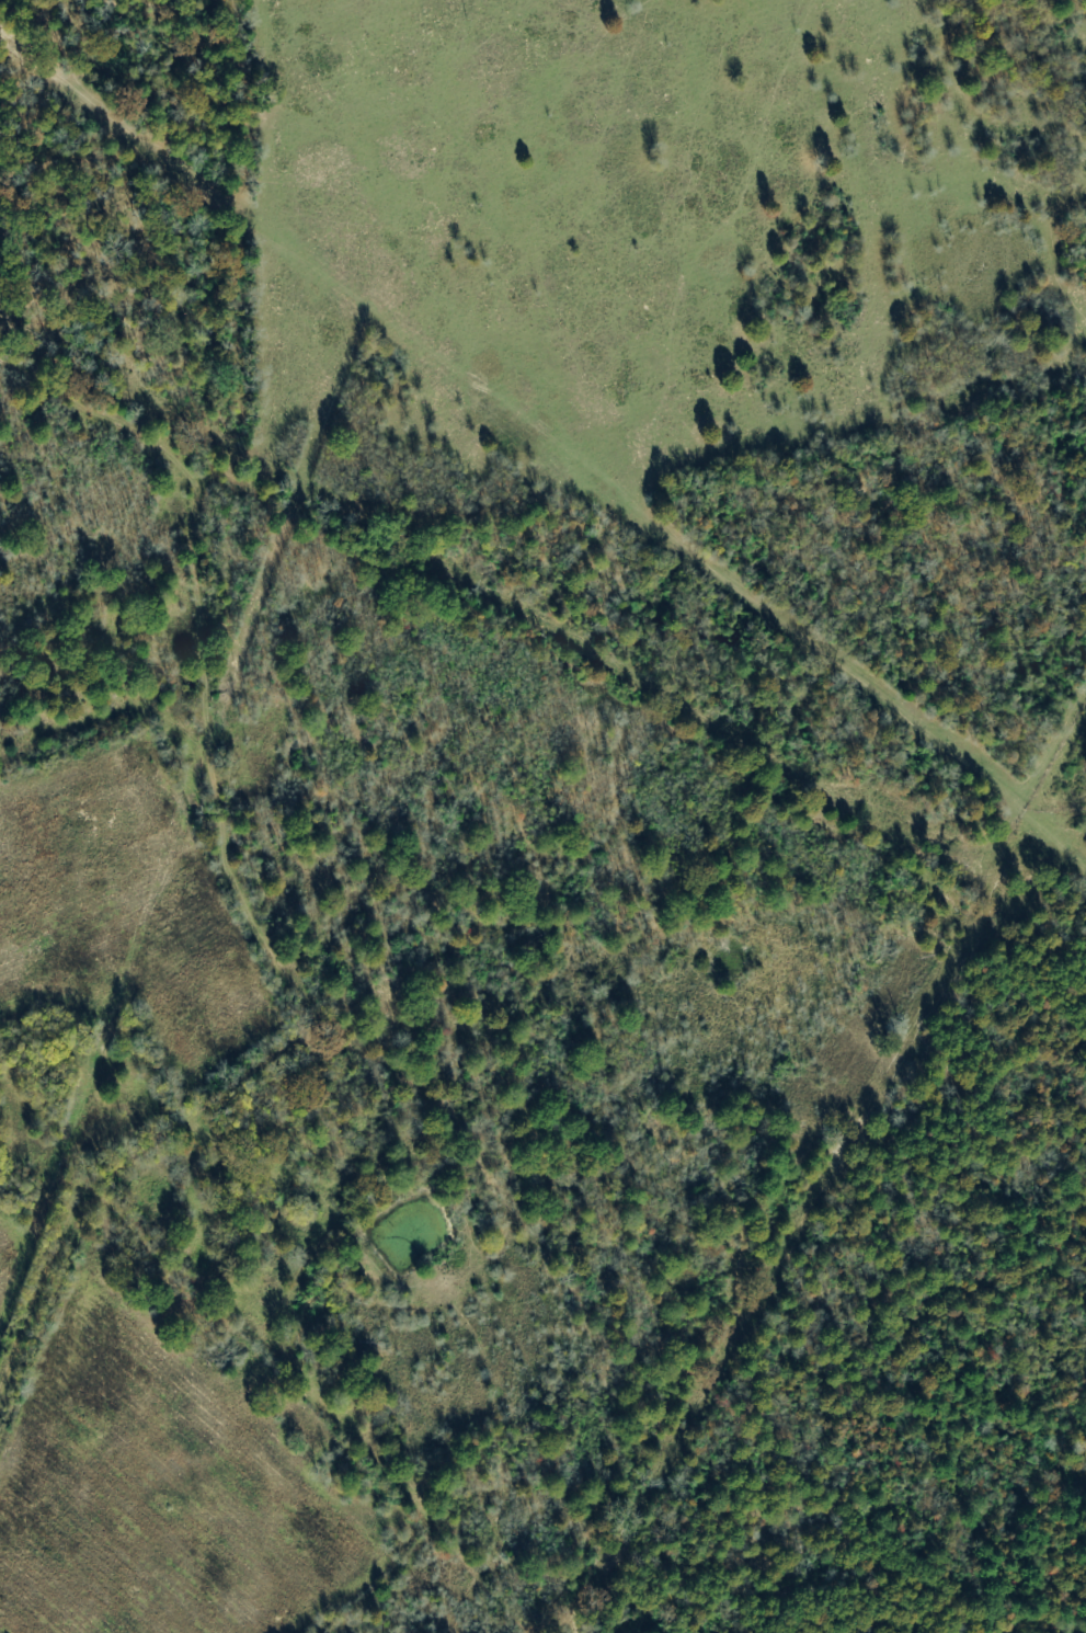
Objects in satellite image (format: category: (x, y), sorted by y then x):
road: (182, 728)

